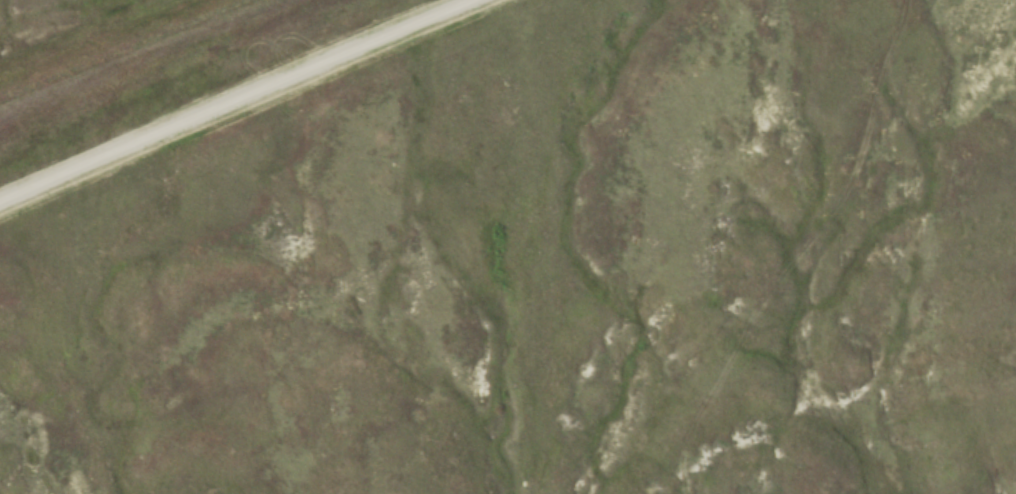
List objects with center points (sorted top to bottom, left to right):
railway: (113, 45)
road: (241, 101)

